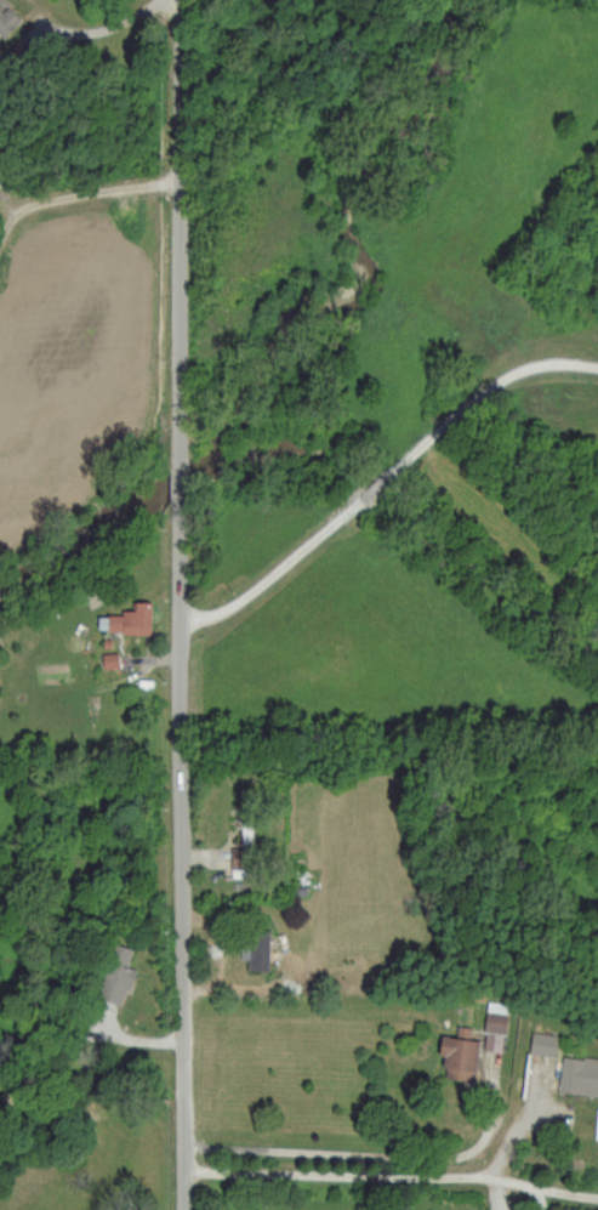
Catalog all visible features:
building: (5, 19)
road: (107, 28)
road: (380, 476)
road: (175, 604)
building: (126, 617)
building: (104, 658)
building: (250, 947)
building: (108, 973)
building: (490, 1029)
building: (539, 1041)
building: (454, 1052)
building: (576, 1073)
building: (594, 1121)
road: (526, 1125)
road: (365, 1152)
road: (391, 1175)
road: (548, 1199)

